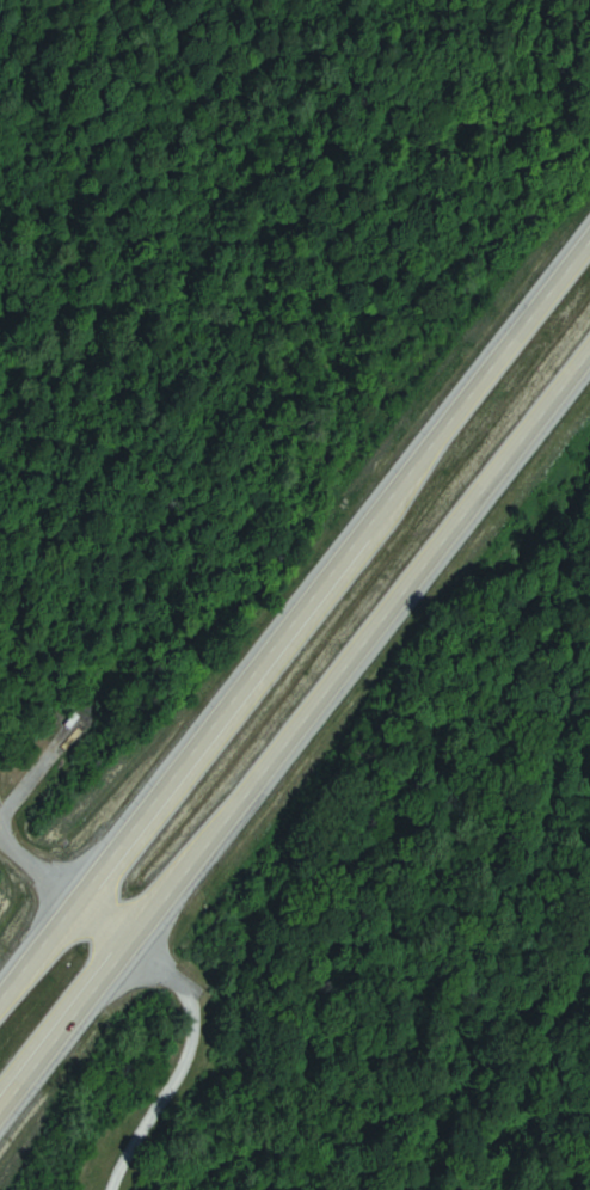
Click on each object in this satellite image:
road: (299, 599)
road: (294, 716)
road: (32, 867)
road: (190, 1025)

